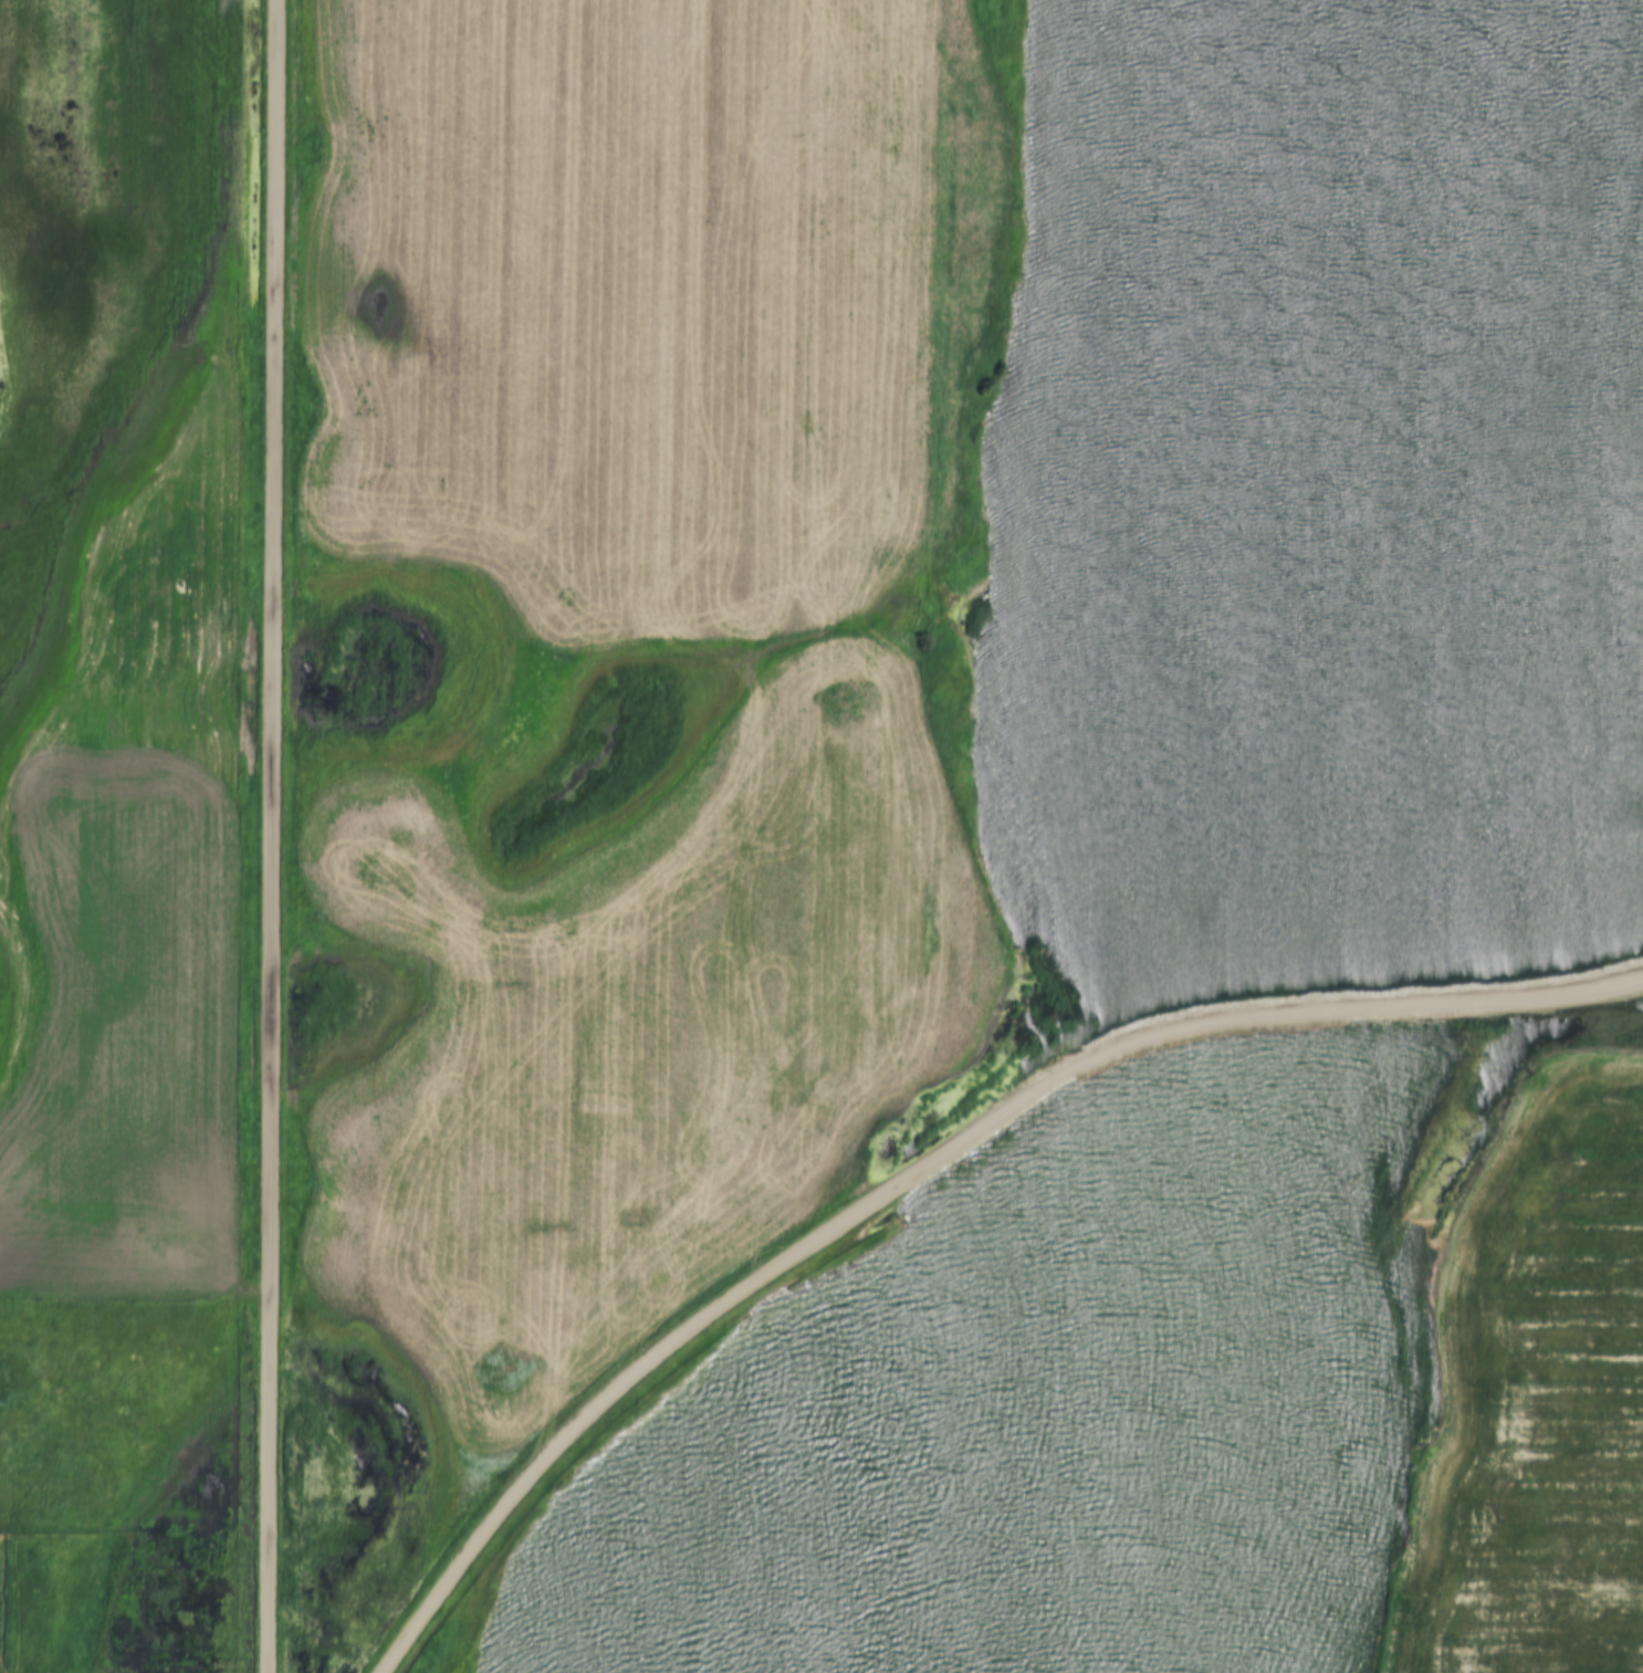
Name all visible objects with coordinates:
road: (268, 836)
building: (1297, 1094)
building: (1279, 1136)
road: (928, 1163)
building: (1335, 1209)

